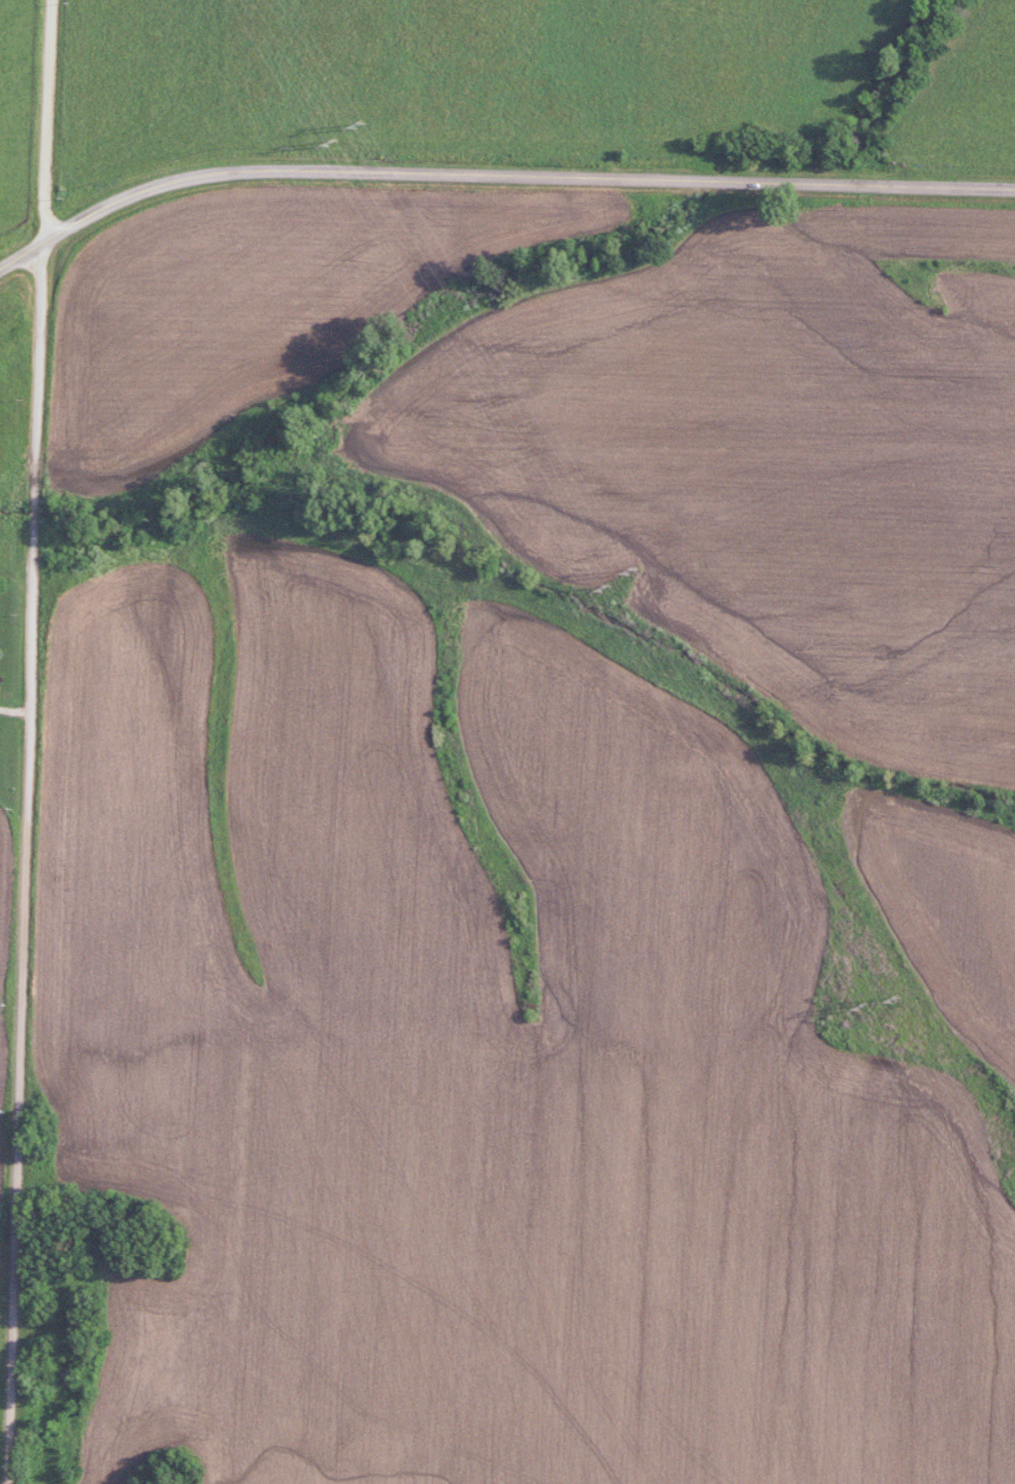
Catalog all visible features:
road: (45, 121)
power tower: (381, 125)
power tower: (345, 142)
road: (496, 174)
power tower: (632, 567)
power tower: (602, 589)
road: (23, 862)
power tower: (894, 998)
power tower: (855, 1005)

